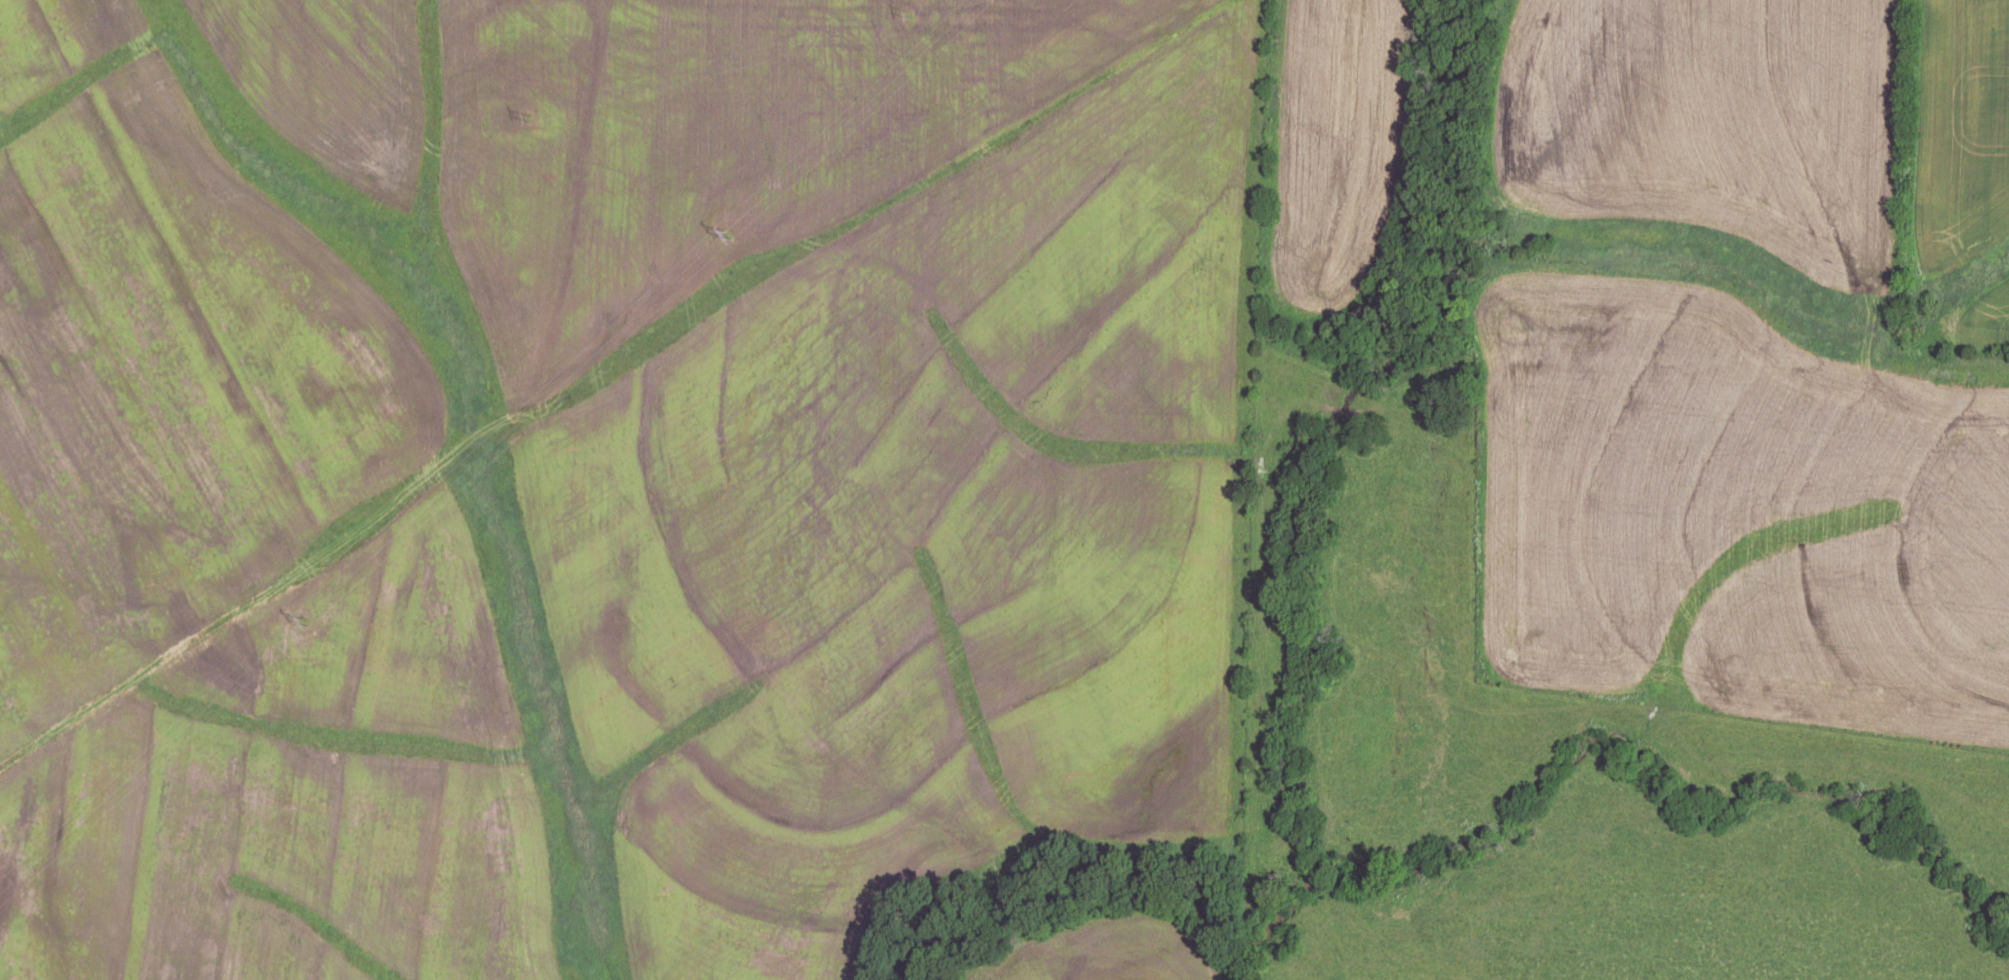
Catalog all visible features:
power tower: (909, 12)
power tower: (532, 115)
crop: (1957, 180)
power tower: (724, 234)
crop: (1732, 388)
crop: (243, 566)
power tower: (311, 624)

